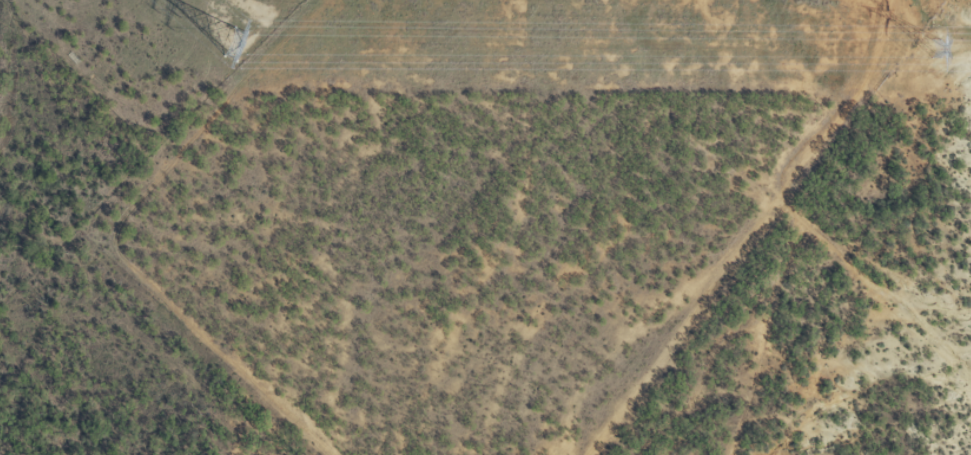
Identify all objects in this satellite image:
power tower: (239, 43)
power tower: (924, 44)

